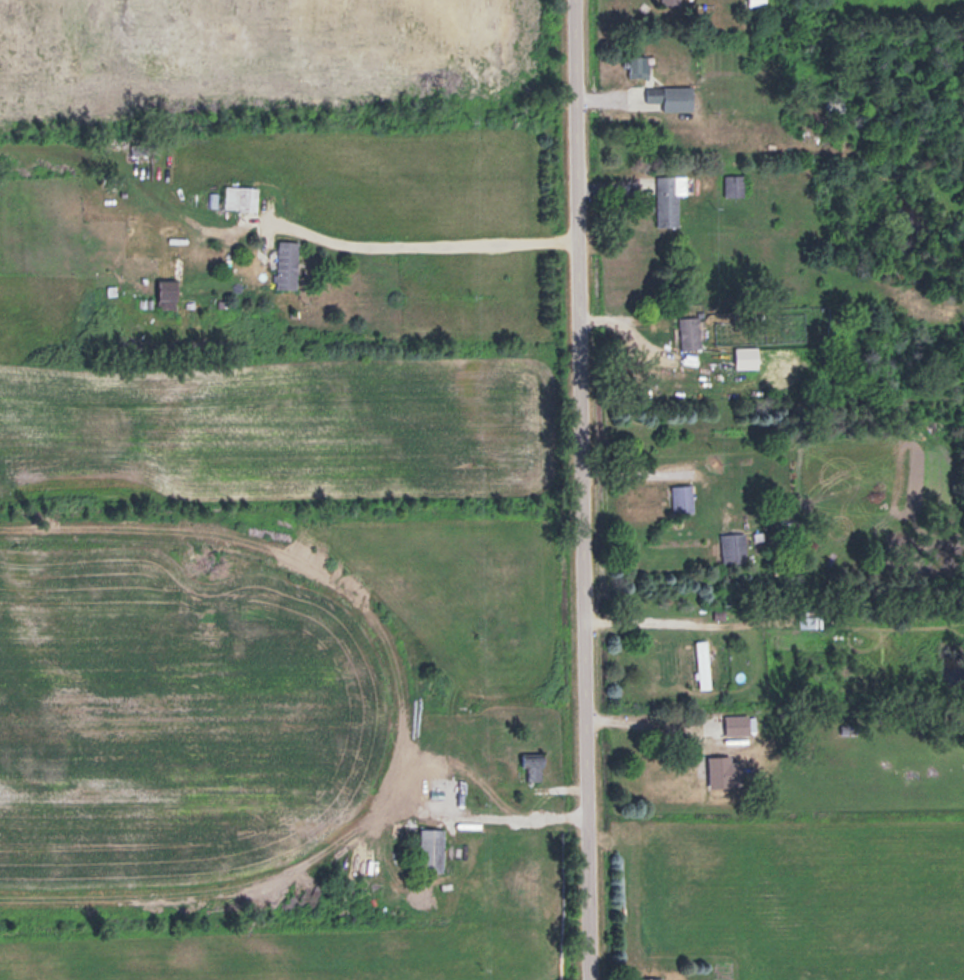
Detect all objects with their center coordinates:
building: (670, 1)
building: (757, 2)
building: (640, 64)
building: (672, 95)
building: (241, 196)
building: (669, 197)
road: (413, 242)
building: (287, 262)
building: (168, 291)
building: (691, 331)
road: (582, 490)
building: (684, 497)
building: (734, 547)
road: (642, 619)
building: (808, 620)
building: (704, 662)
road: (640, 721)
building: (737, 724)
building: (533, 762)
building: (721, 770)
building: (433, 848)
building: (653, 978)

